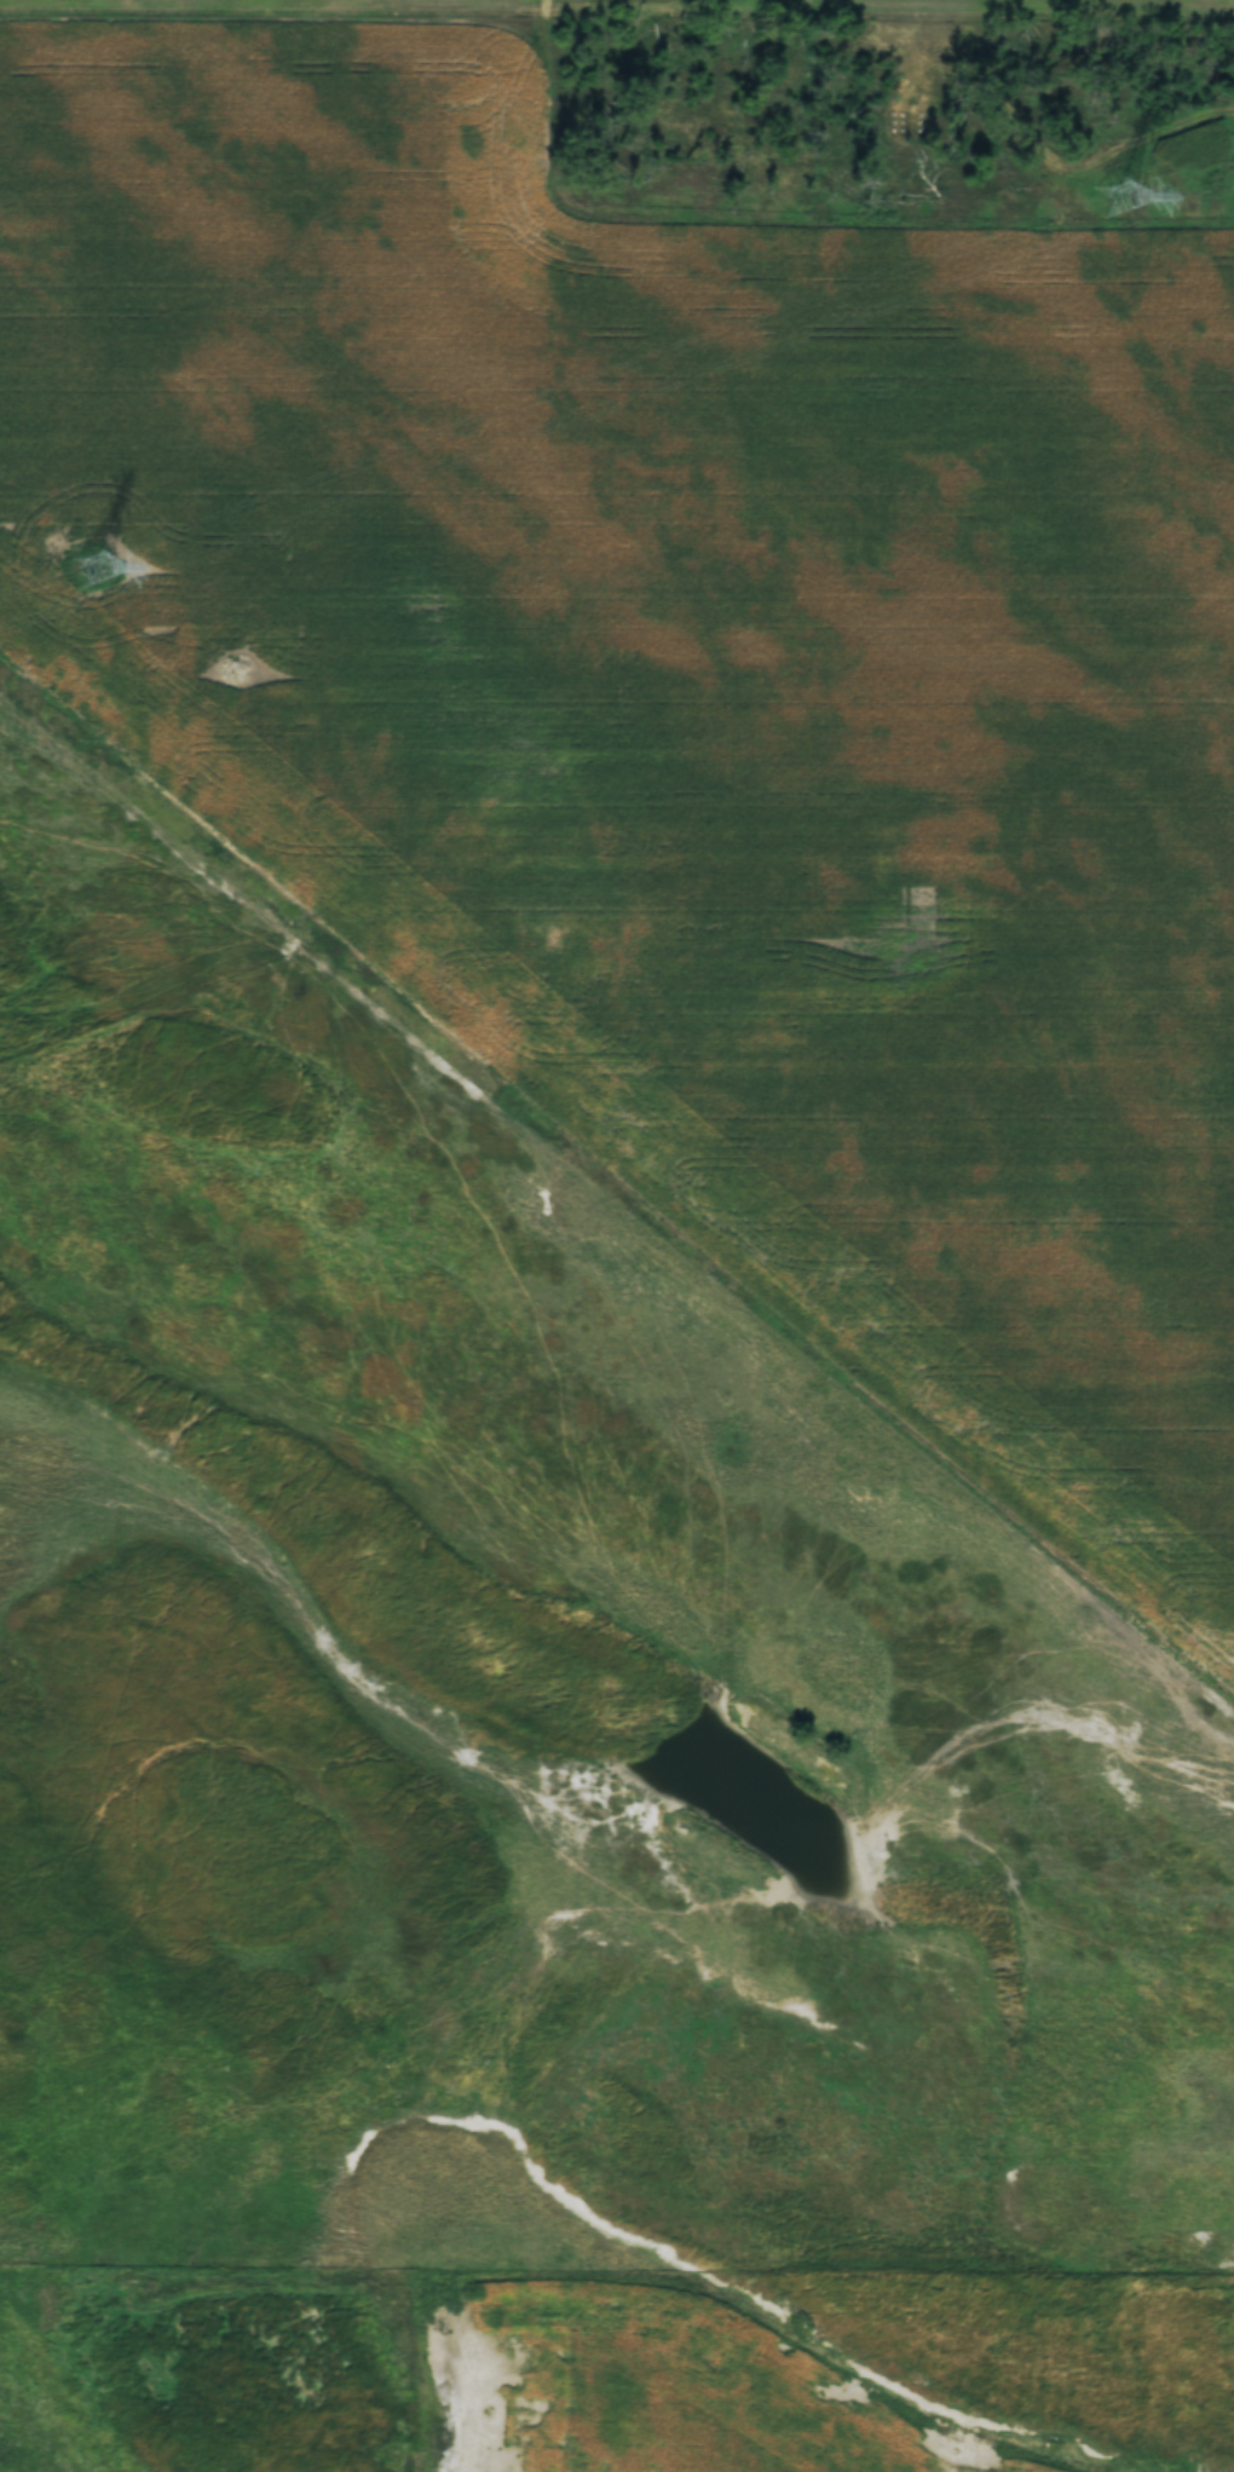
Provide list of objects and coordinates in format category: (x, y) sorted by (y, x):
power tower: (1108, 198)
power tower: (88, 567)

